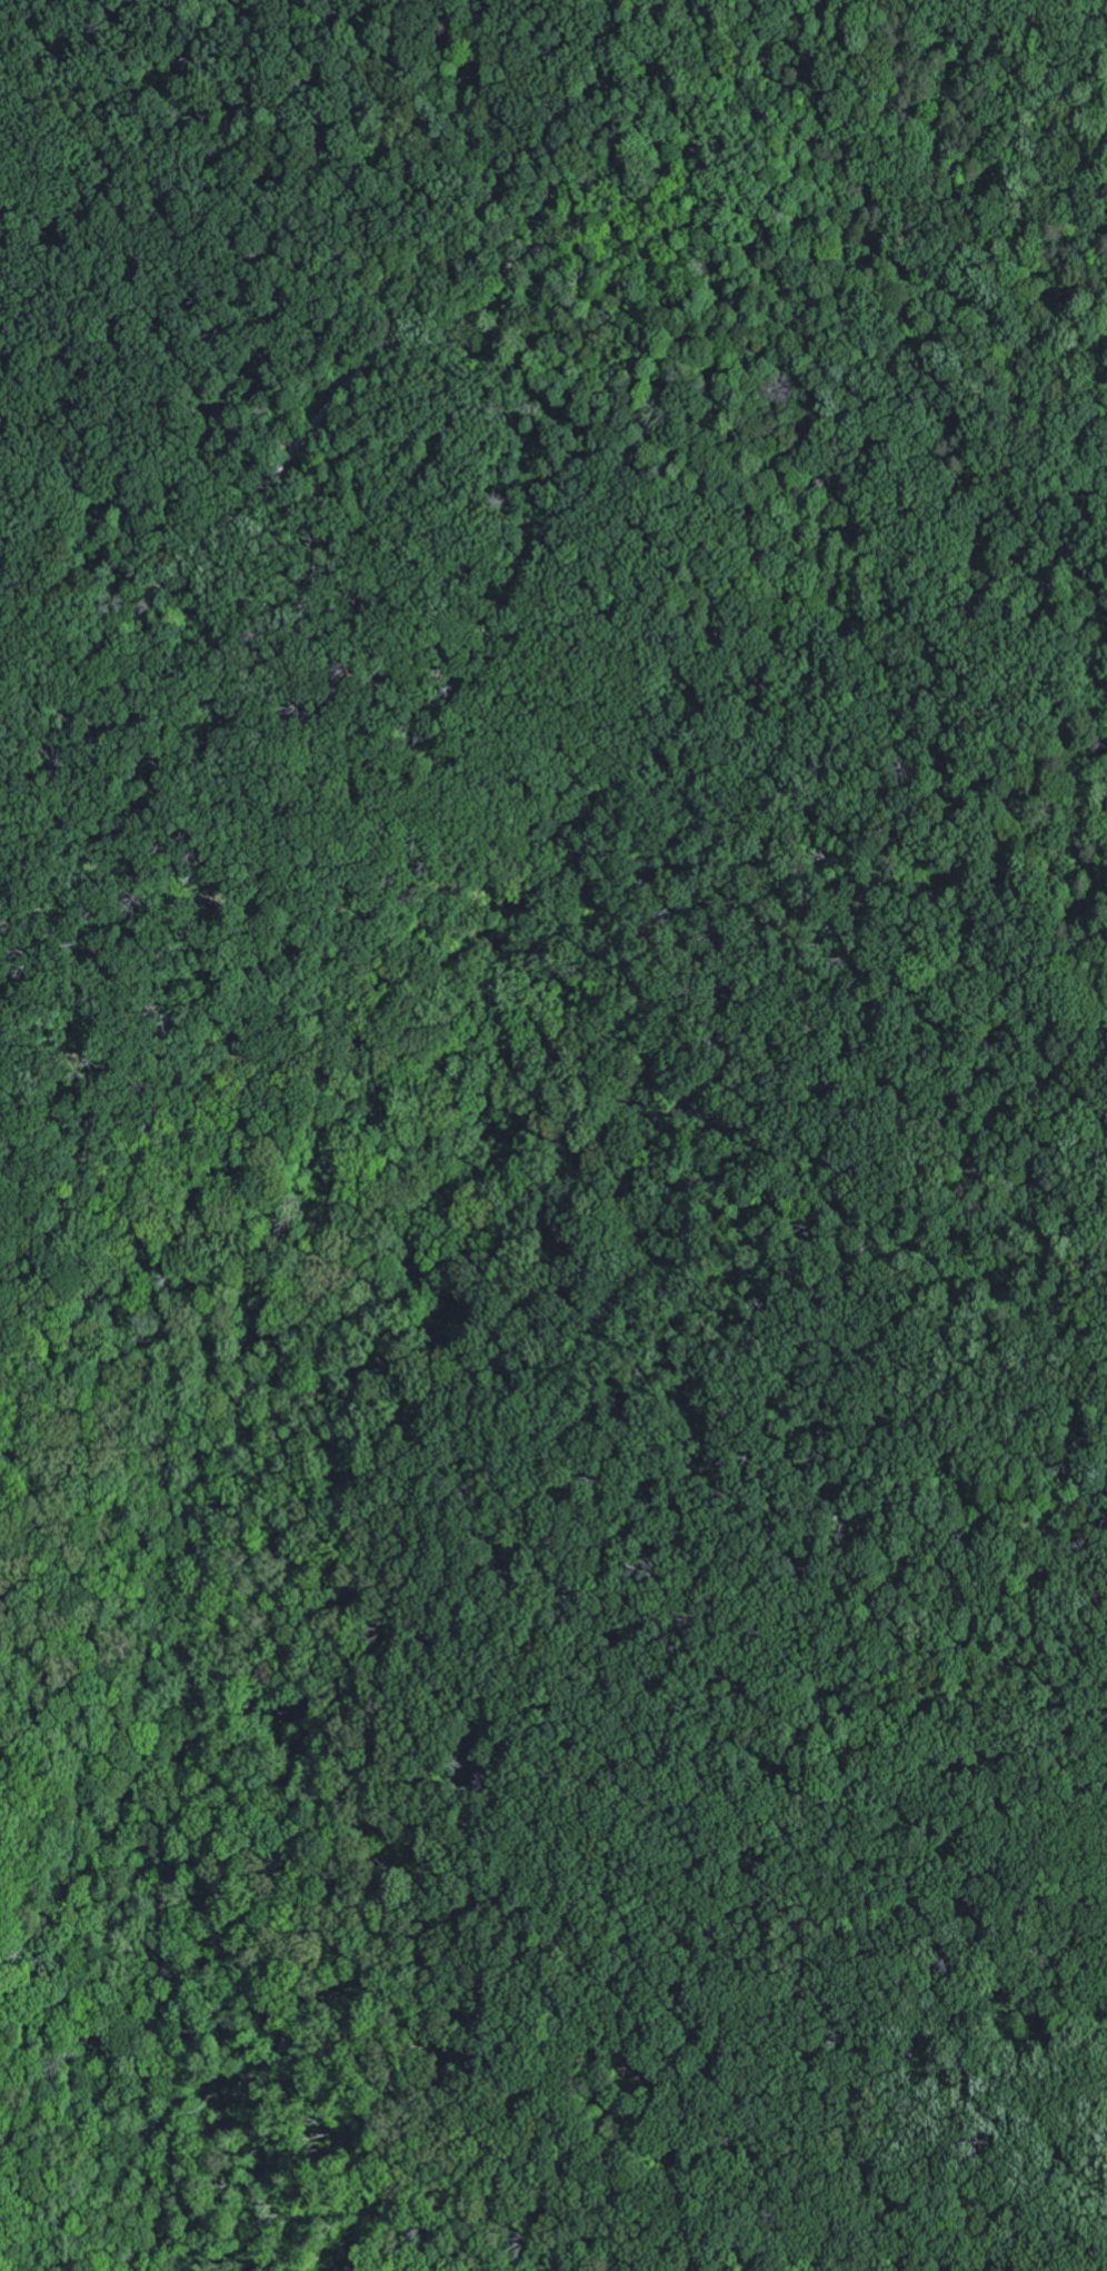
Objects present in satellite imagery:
road: (393, 340)
road: (1005, 2030)

